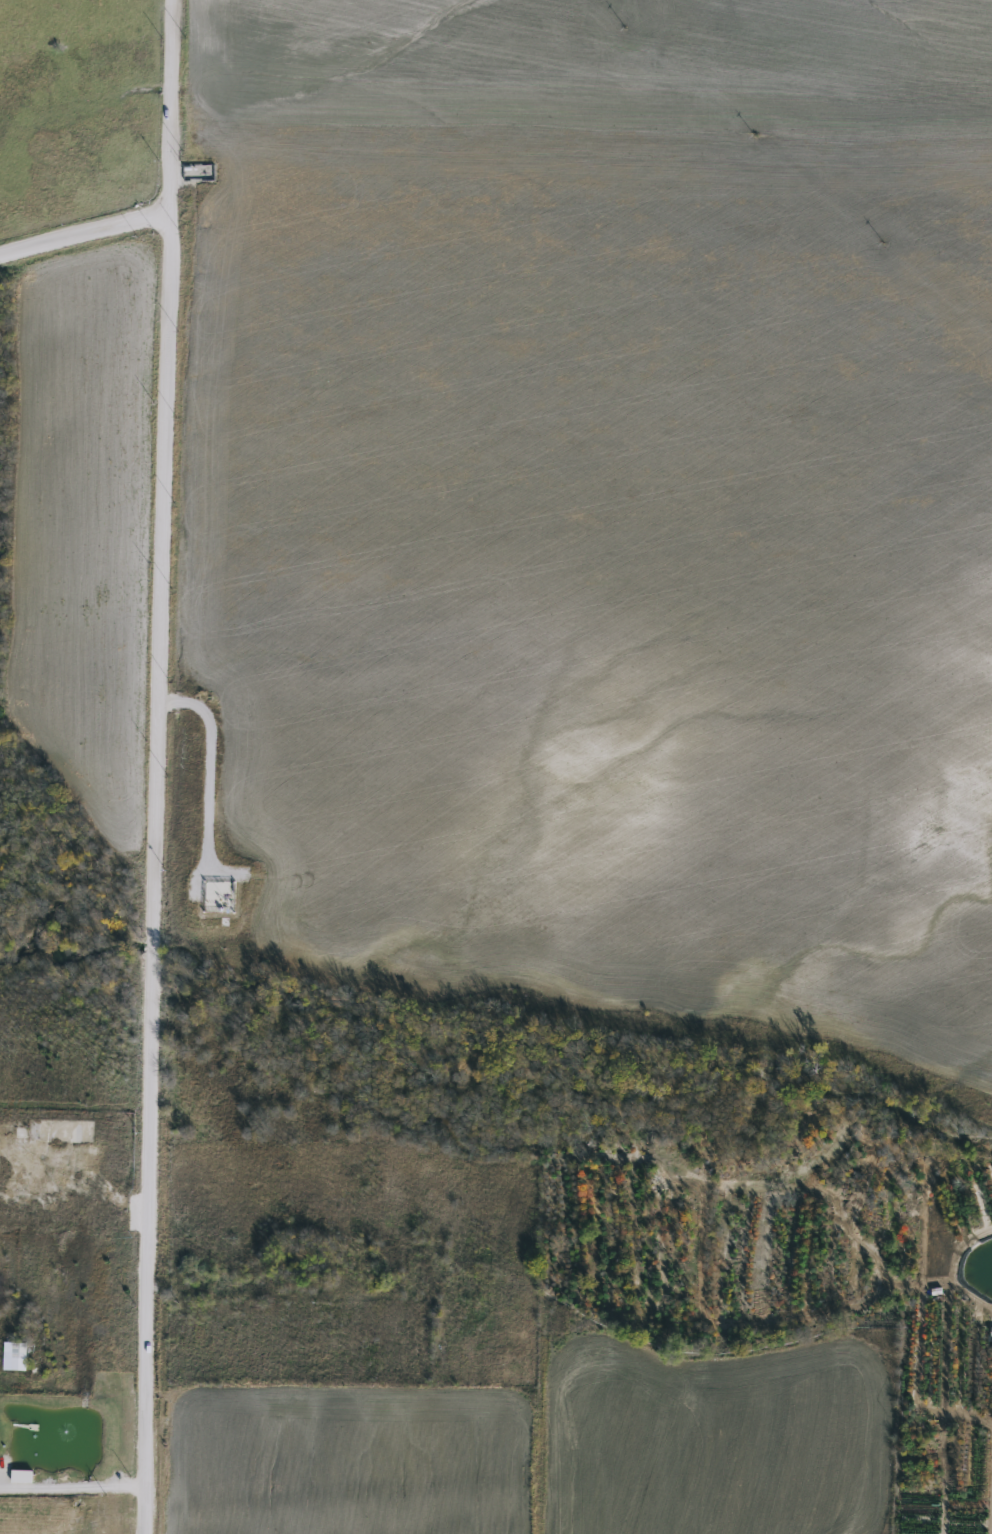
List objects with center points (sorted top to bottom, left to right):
road: (83, 230)
crop: (613, 501)
road: (213, 764)
road: (156, 766)
building: (410, 1283)
road: (264, 1293)
building: (14, 1355)
building: (21, 1476)
road: (72, 1486)

